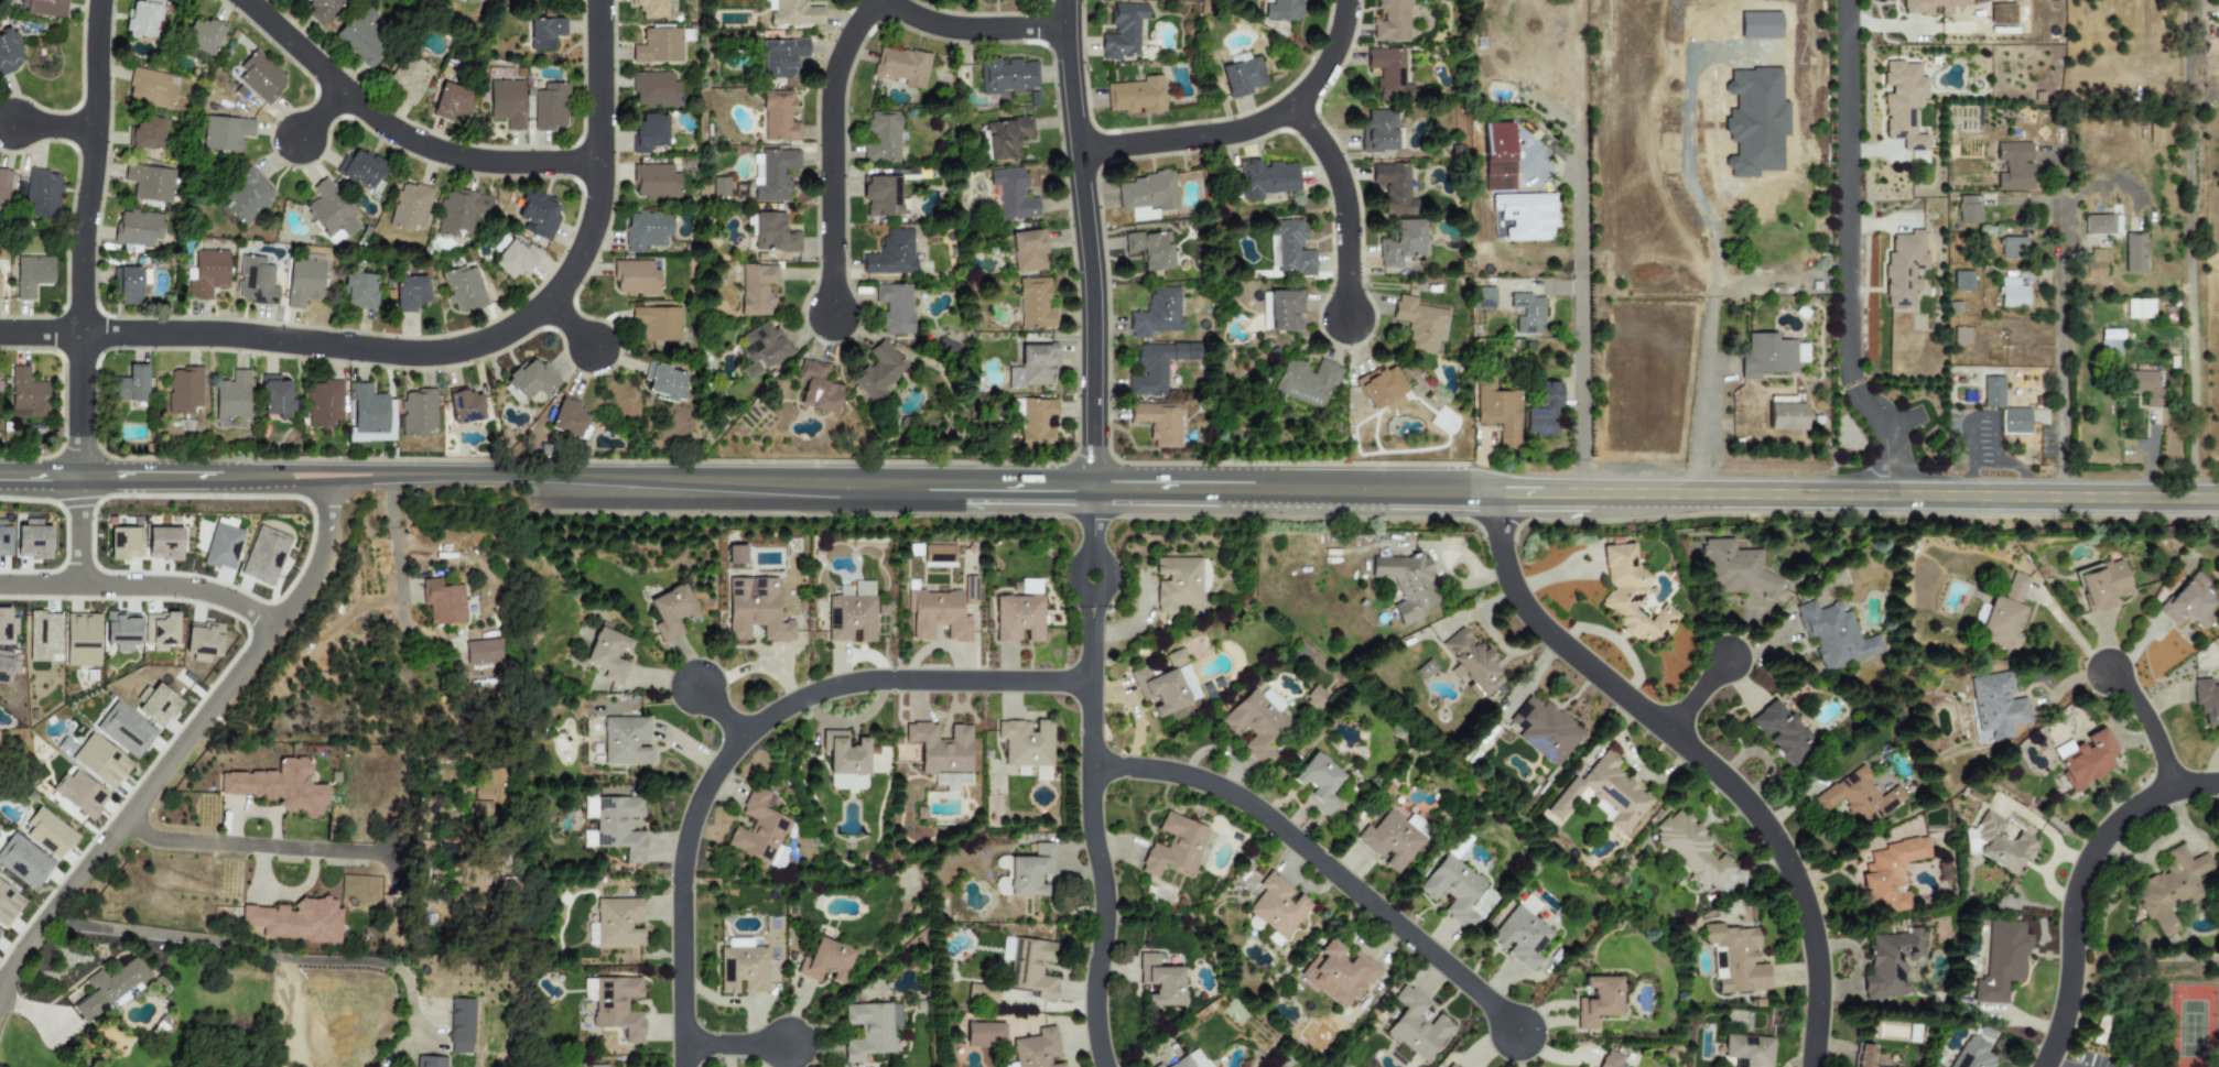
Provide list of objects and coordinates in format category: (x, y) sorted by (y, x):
building: (988, 0)
building: (477, 1)
building: (1930, 6)
building: (45, 8)
building: (649, 8)
building: (321, 9)
building: (1281, 10)
building: (793, 13)
building: (142, 19)
building: (1392, 21)
street lamp: (617, 25)
road: (972, 29)
building: (1123, 31)
building: (544, 33)
building: (203, 35)
building: (361, 37)
building: (658, 45)
building: (9, 51)
building: (781, 57)
building: (901, 66)
street lamp: (617, 67)
building: (1388, 73)
building: (409, 74)
building: (1007, 75)
building: (259, 77)
building: (1242, 77)
building: (151, 88)
building: (654, 90)
building: (1135, 96)
building: (450, 101)
building: (506, 102)
building: (1903, 102)
building: (549, 107)
road: (321, 113)
building: (778, 116)
street lamp: (1200, 119)
road: (52, 127)
road: (1246, 128)
building: (1378, 130)
building: (225, 132)
building: (649, 132)
building: (148, 133)
road: (398, 133)
building: (2154, 133)
building: (883, 137)
building: (1006, 138)
road: (830, 151)
building: (1497, 156)
road: (597, 157)
building: (2013, 165)
building: (360, 168)
building: (772, 174)
building: (1267, 179)
building: (654, 181)
building: (150, 182)
building: (719, 187)
building: (3, 188)
building: (1394, 188)
building: (40, 193)
building: (1013, 195)
building: (1146, 195)
building: (880, 196)
building: (247, 197)
road: (1344, 204)
building: (410, 207)
building: (1968, 209)
building: (461, 211)
building: (331, 213)
building: (538, 215)
building: (1525, 215)
street lamp: (848, 225)
building: (2097, 225)
building: (138, 228)
building: (646, 230)
building: (773, 233)
road: (82, 237)
building: (1401, 243)
road: (1086, 244)
building: (1288, 248)
building: (2012, 248)
building: (1150, 249)
road: (2190, 249)
building: (1028, 251)
building: (2133, 252)
building: (891, 253)
road: (1850, 254)
building: (515, 259)
building: (2091, 265)
building: (1904, 269)
building: (206, 273)
street lamp: (1070, 273)
building: (31, 274)
building: (635, 277)
building: (256, 281)
building: (303, 281)
building: (1961, 281)
building: (129, 286)
road: (1761, 286)
building: (464, 288)
building: (757, 290)
building: (359, 291)
building: (409, 293)
building: (2012, 293)
building: (1482, 297)
building: (1035, 304)
building: (895, 307)
building: (1284, 311)
building: (1527, 313)
building: (1157, 314)
street lamp: (229, 316)
road: (1583, 319)
building: (658, 323)
building: (1419, 323)
road: (569, 325)
road: (40, 333)
building: (1960, 336)
street lamp: (811, 341)
road: (320, 344)
building: (2109, 346)
building: (762, 349)
road: (1711, 351)
building: (1769, 356)
road: (2060, 356)
building: (1032, 366)
street lamp: (348, 367)
building: (1156, 367)
building: (878, 371)
building: (529, 380)
building: (664, 382)
building: (1307, 382)
building: (130, 384)
building: (2142, 385)
building: (818, 388)
building: (1382, 389)
building: (183, 390)
building: (1993, 392)
building: (26, 394)
building: (232, 396)
building: (275, 396)
building: (324, 403)
building: (465, 406)
building: (1497, 411)
building: (418, 412)
building: (1544, 412)
building: (371, 413)
building: (1785, 414)
road: (1988, 415)
building: (566, 418)
building: (2014, 421)
building: (1159, 422)
road: (2152, 460)
road: (331, 469)
road: (463, 473)
road: (40, 476)
road: (176, 476)
road: (358, 480)
road: (299, 481)
road: (1018, 488)
road: (1860, 496)
road: (78, 531)
building: (32, 540)
building: (4, 541)
building: (125, 543)
building: (163, 543)
building: (223, 547)
building: (735, 554)
building: (263, 555)
building: (939, 556)
building: (1734, 570)
road: (398, 573)
street lamp: (190, 574)
building: (1177, 583)
building: (1406, 584)
building: (2101, 585)
road: (141, 586)
building: (968, 590)
building: (1631, 596)
street lamp: (63, 601)
building: (442, 601)
building: (2188, 603)
building: (671, 610)
building: (755, 610)
building: (852, 613)
building: (937, 614)
building: (2003, 614)
building: (1018, 618)
building: (7, 627)
street lamp: (242, 629)
building: (121, 630)
building: (160, 630)
building: (43, 635)
building: (1834, 636)
building: (203, 639)
building: (82, 640)
building: (481, 652)
building: (607, 653)
building: (1173, 657)
building: (1471, 663)
building: (7, 665)
building: (1425, 668)
building: (1187, 682)
road: (1698, 696)
building: (1314, 698)
building: (2207, 703)
building: (156, 705)
building: (1996, 705)
road: (722, 707)
road: (2148, 719)
building: (1256, 722)
road: (744, 727)
building: (125, 729)
building: (1545, 730)
building: (1780, 731)
street lamp: (166, 739)
road: (185, 740)
building: (624, 740)
building: (1026, 743)
building: (844, 753)
building: (942, 753)
road: (1700, 756)
building: (2085, 759)
building: (99, 761)
building: (1040, 774)
road: (1092, 780)
building: (846, 782)
building: (1318, 783)
building: (278, 787)
building: (489, 792)
building: (79, 794)
building: (1603, 794)
building: (1858, 796)
building: (1417, 825)
building: (758, 827)
building: (48, 834)
street lamp: (93, 836)
building: (1389, 841)
building: (1999, 845)
road: (273, 847)
building: (1173, 847)
building: (1691, 850)
road: (1323, 860)
building: (23, 862)
building: (1025, 872)
building: (1890, 875)
road: (2078, 884)
building: (2171, 888)
building: (1452, 889)
building: (8, 904)
building: (1528, 904)
building: (1277, 906)
building: (295, 921)
building: (615, 923)
building: (0, 935)
building: (1519, 937)
road: (272, 956)
building: (1735, 959)
building: (2002, 960)
building: (824, 961)
building: (1892, 962)
building: (1029, 966)
building: (743, 969)
building: (1338, 975)
building: (1159, 981)
building: (108, 988)
building: (981, 994)
building: (1598, 1001)
road: (23, 1004)
building: (615, 1004)
building: (461, 1025)
building: (1416, 1026)
building: (869, 1030)
building: (984, 1034)
road: (426, 1039)
road: (733, 1043)
building: (1037, 1049)
building: (1747, 1050)
building: (1972, 1054)
building: (1864, 1055)
building: (1610, 1059)
building: (1191, 1060)
building: (430, 1061)
road: (2050, 1064)
building: (597, 1065)
building: (1009, 1065)
building: (1451, 1065)
building: (1158, 1066)

